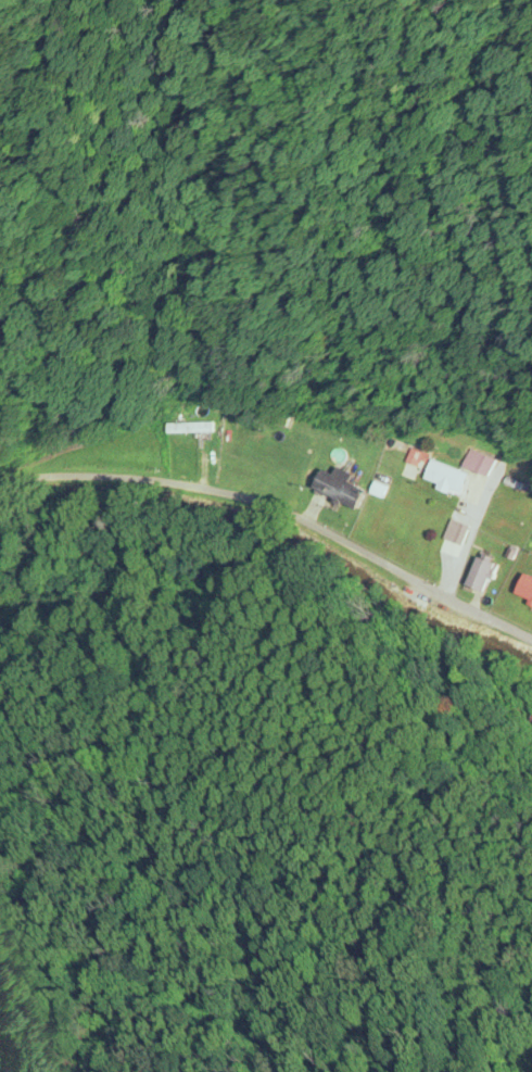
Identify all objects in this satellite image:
building: (279, 420)
building: (191, 430)
building: (341, 490)
road: (280, 510)
building: (457, 534)
building: (483, 575)
building: (531, 720)

